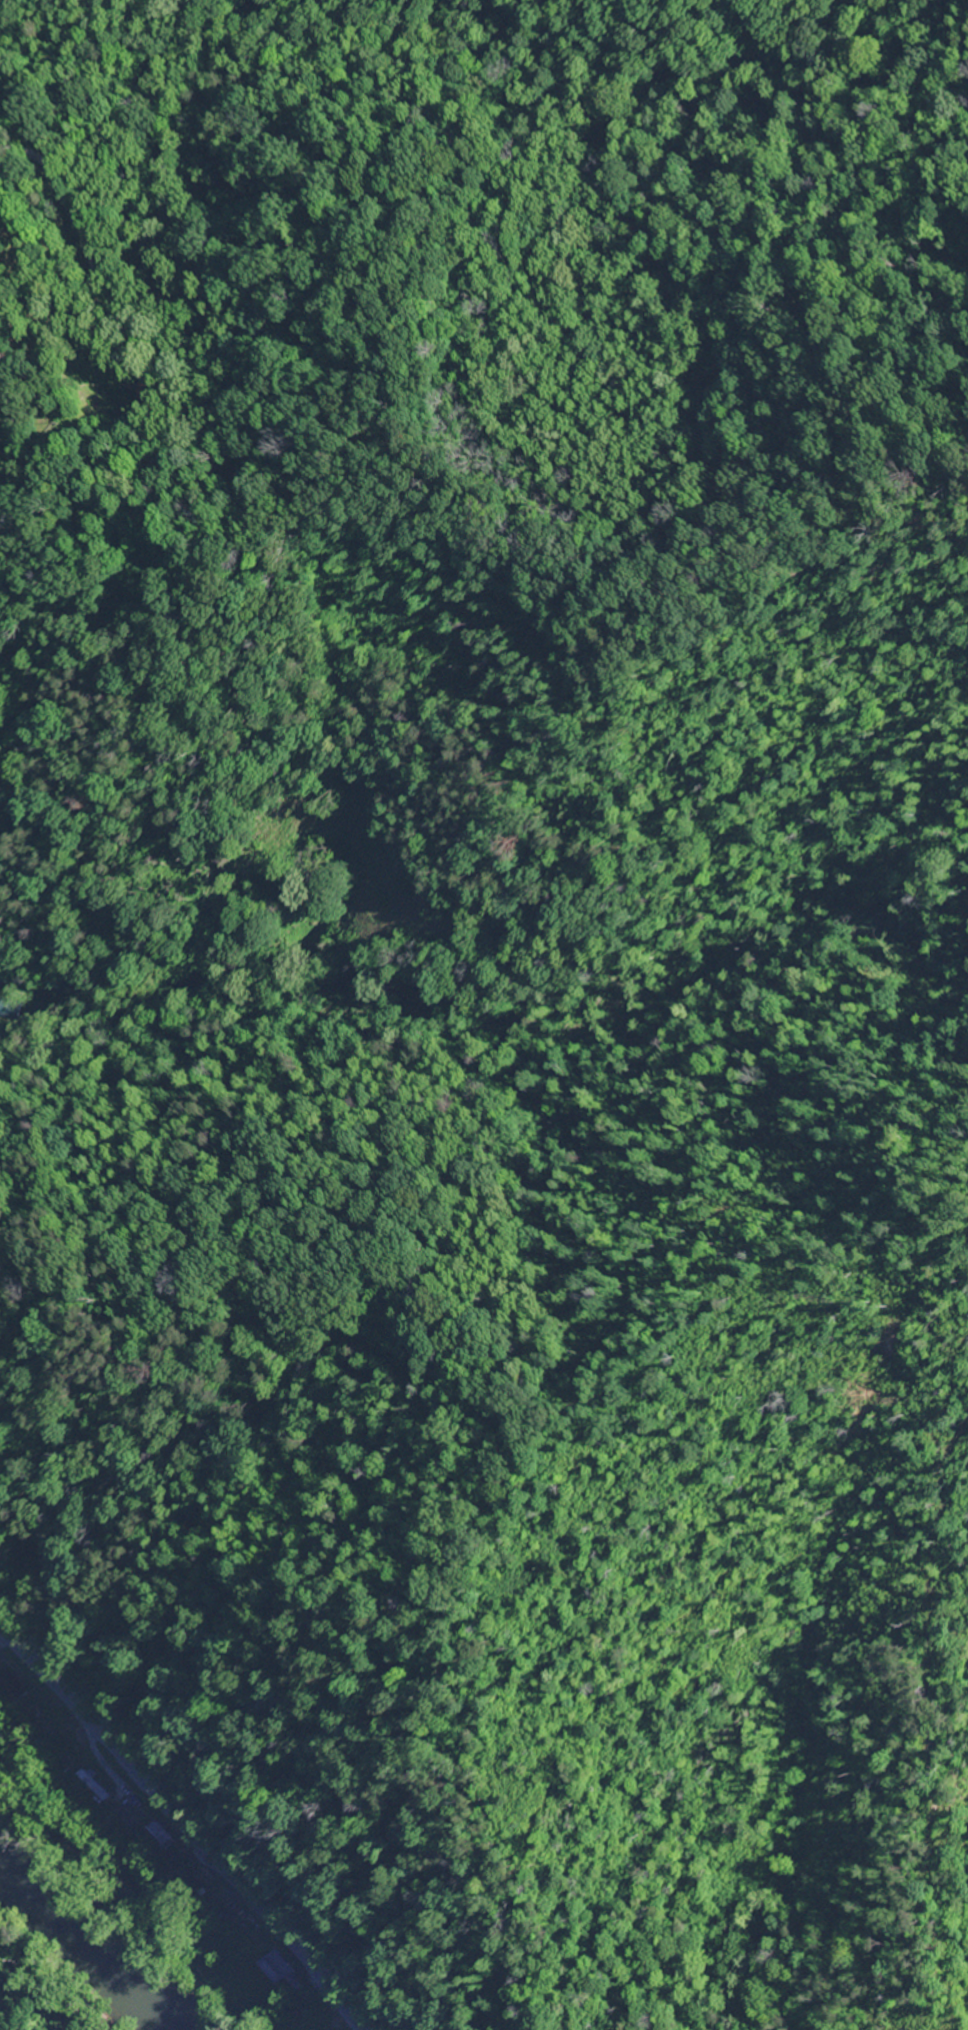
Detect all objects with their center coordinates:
road: (487, 276)
building: (7, 1689)
building: (87, 1785)
road: (181, 1830)
building: (154, 1836)
river: (30, 1912)
building: (271, 1968)
river: (113, 1987)

